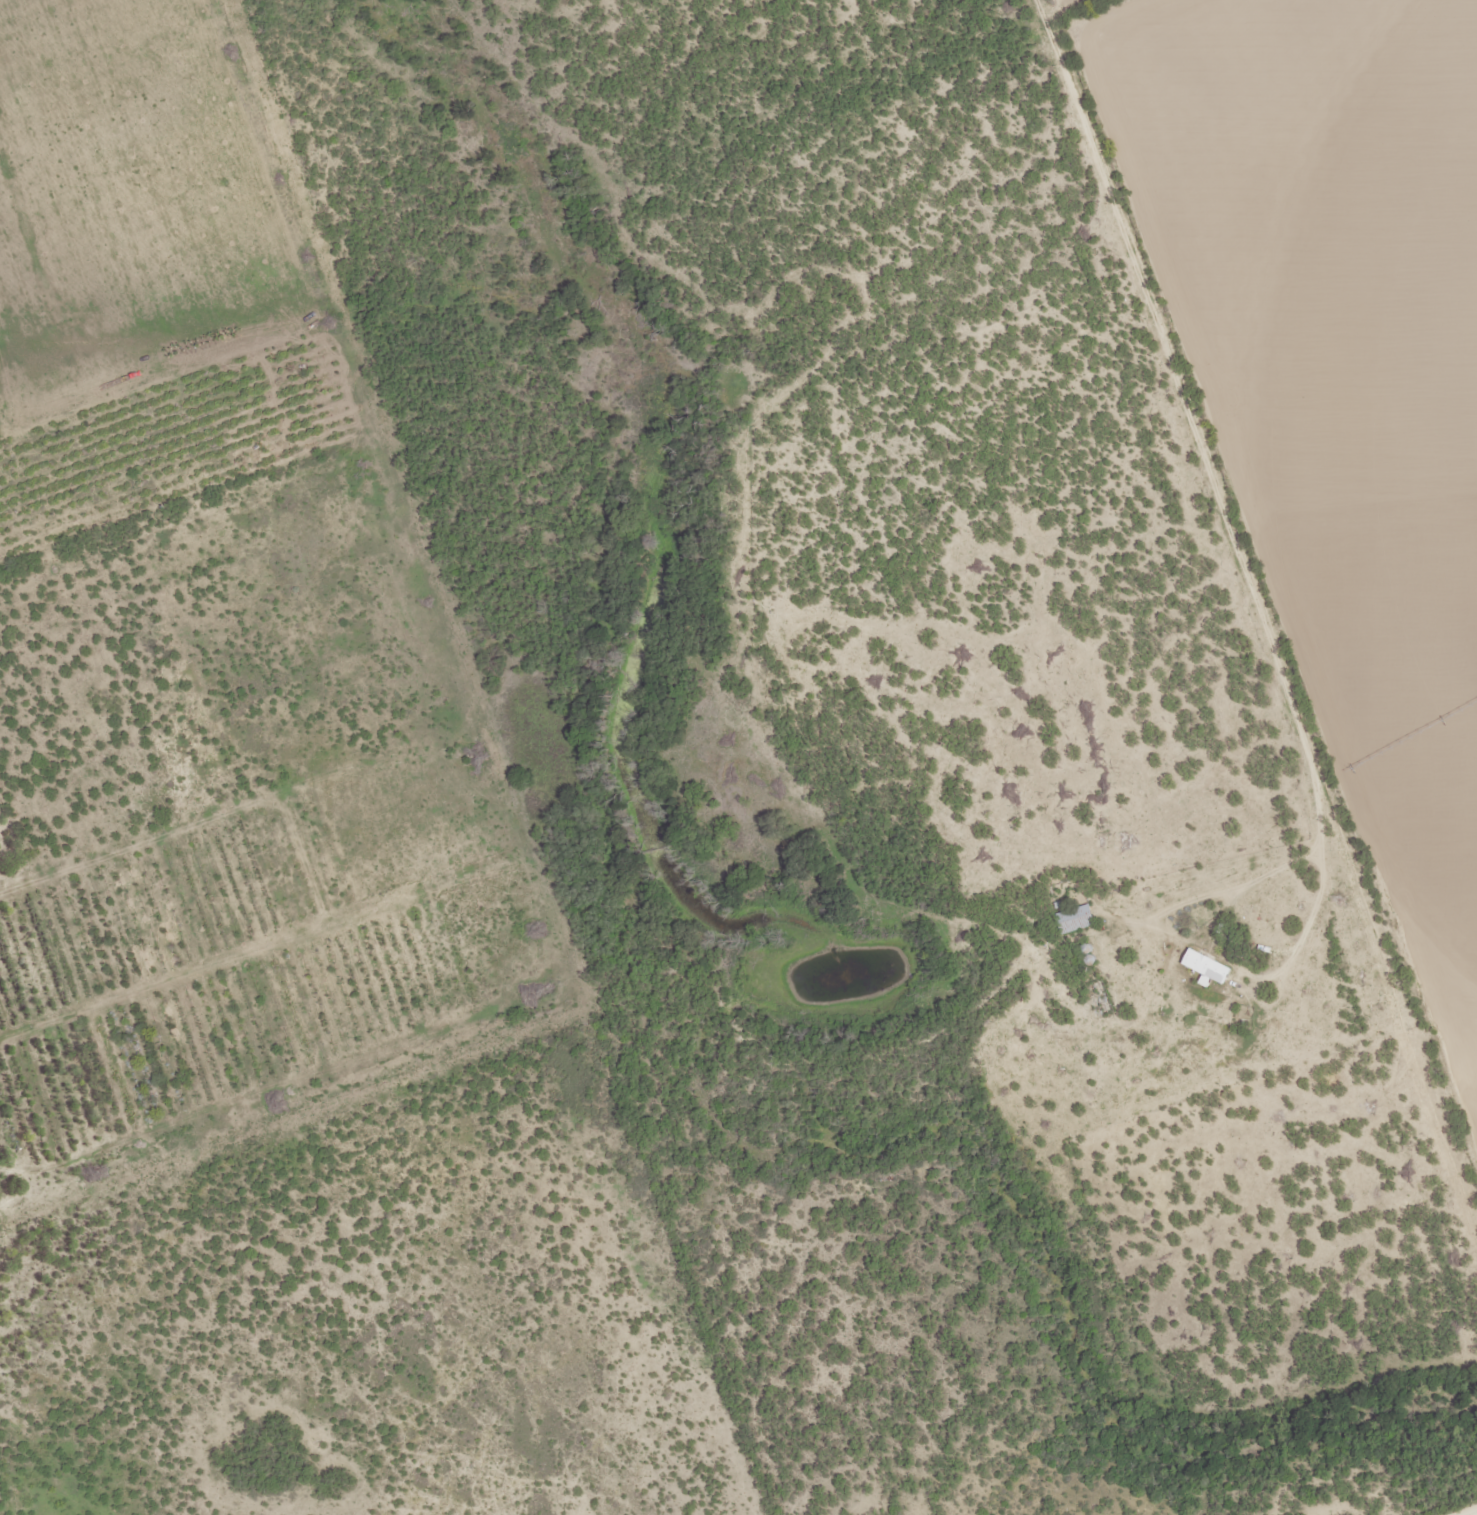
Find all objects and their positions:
building: (1077, 919)
building: (1207, 965)
road: (1476, 1514)

